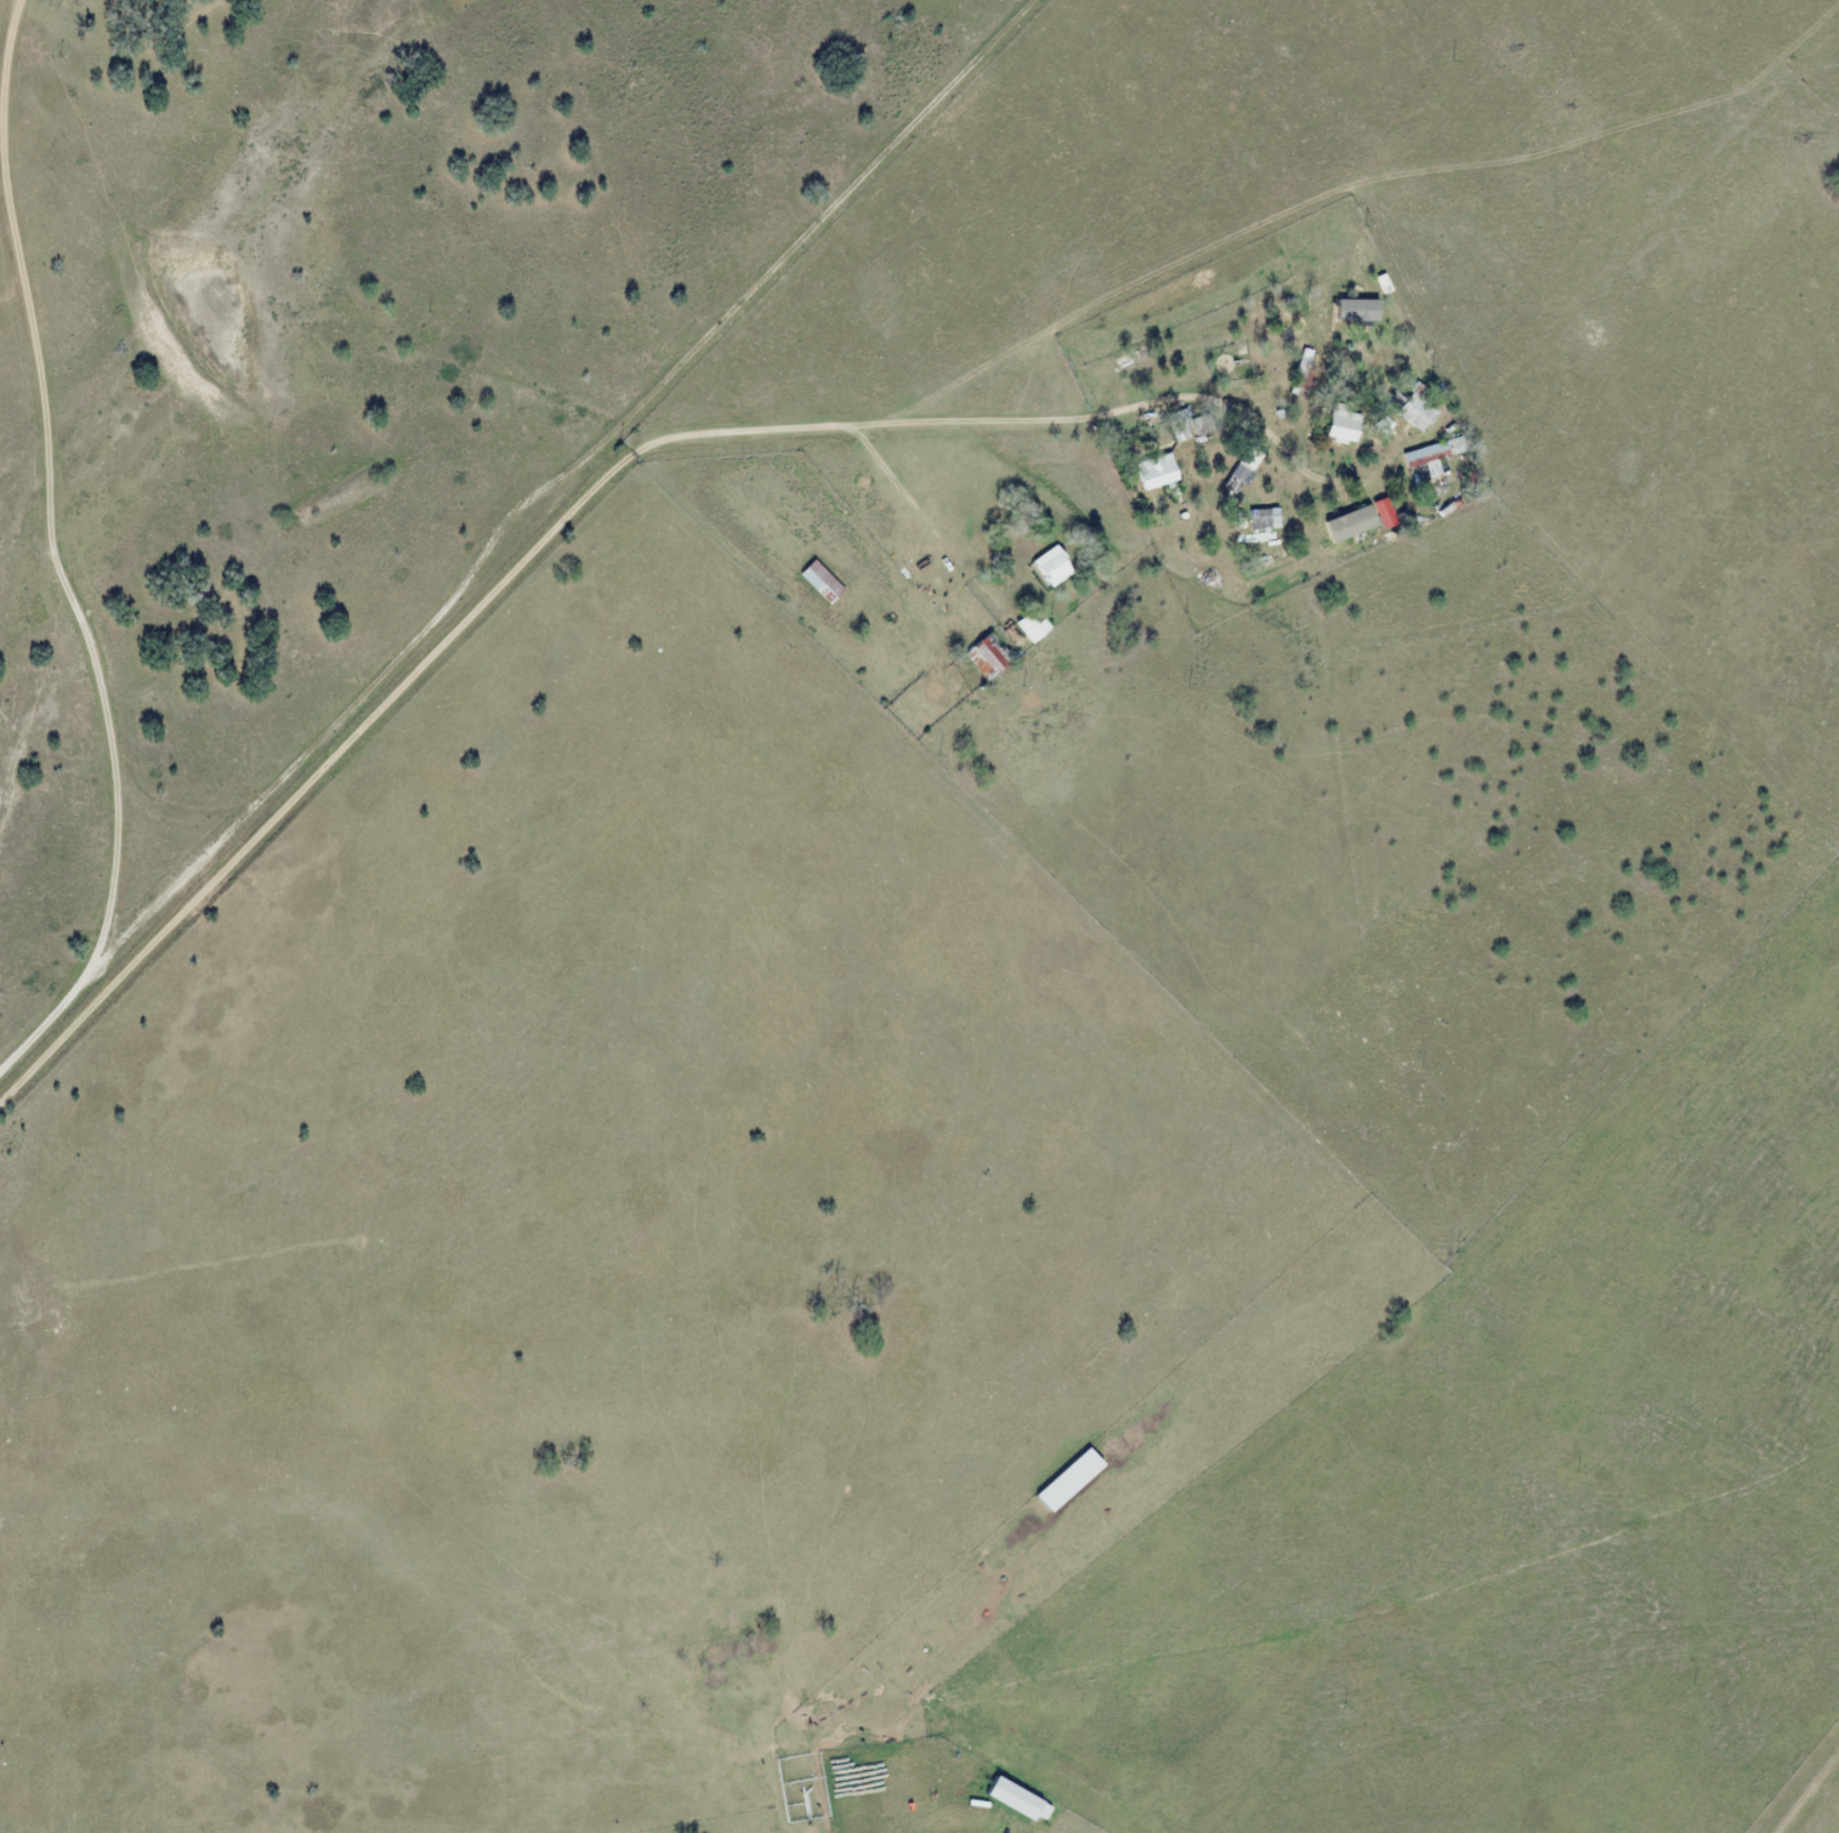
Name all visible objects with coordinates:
building: (1417, 412)
building: (1345, 427)
building: (1432, 454)
building: (1158, 476)
building: (1237, 477)
building: (1356, 532)
building: (1054, 566)
building: (821, 580)
road: (465, 620)
building: (1034, 625)
building: (989, 656)

